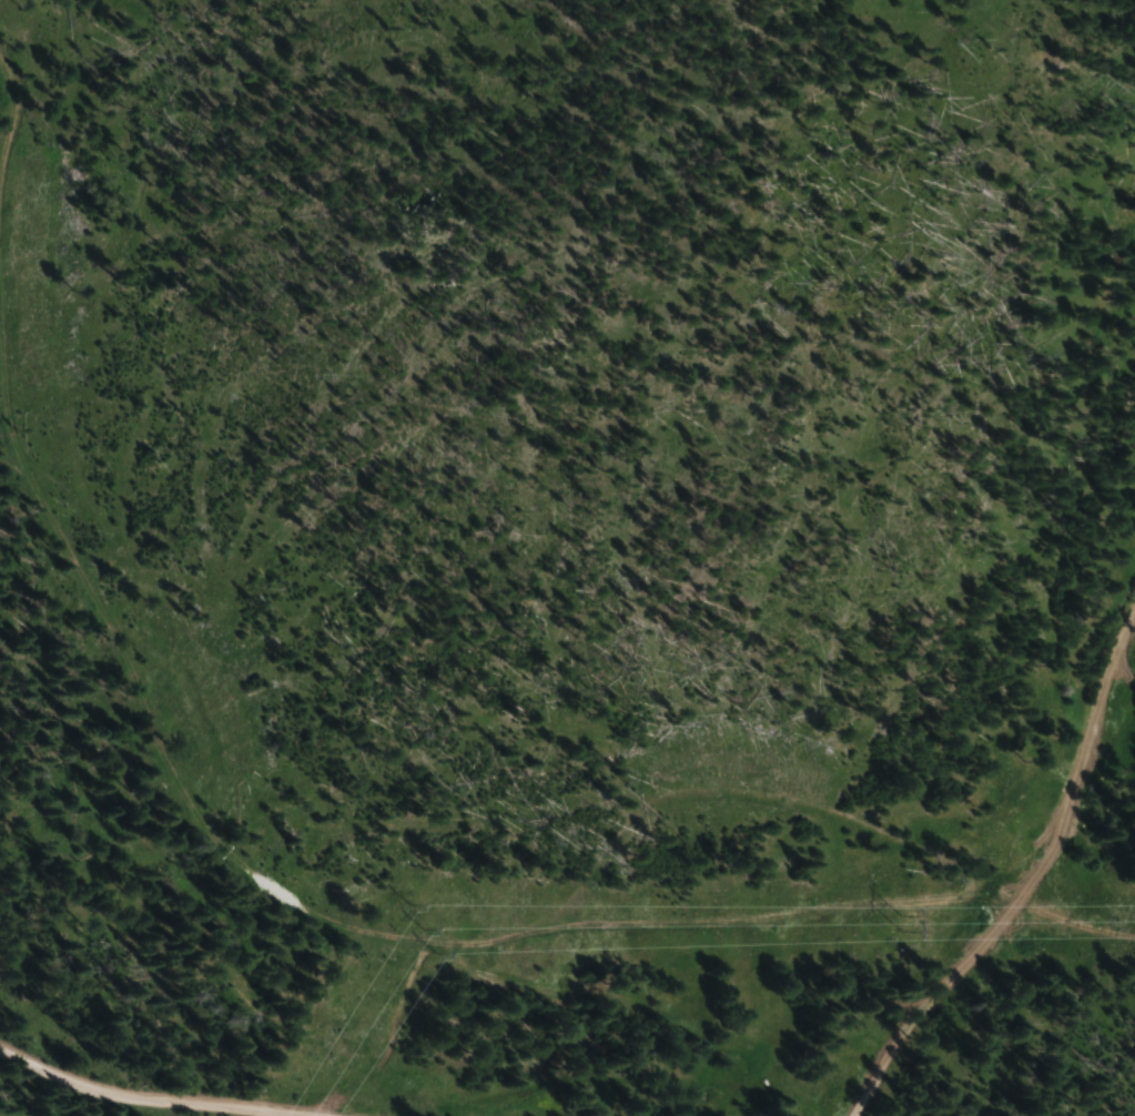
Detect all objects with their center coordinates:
power tower: (899, 924)
power tower: (419, 926)
road: (140, 1103)

